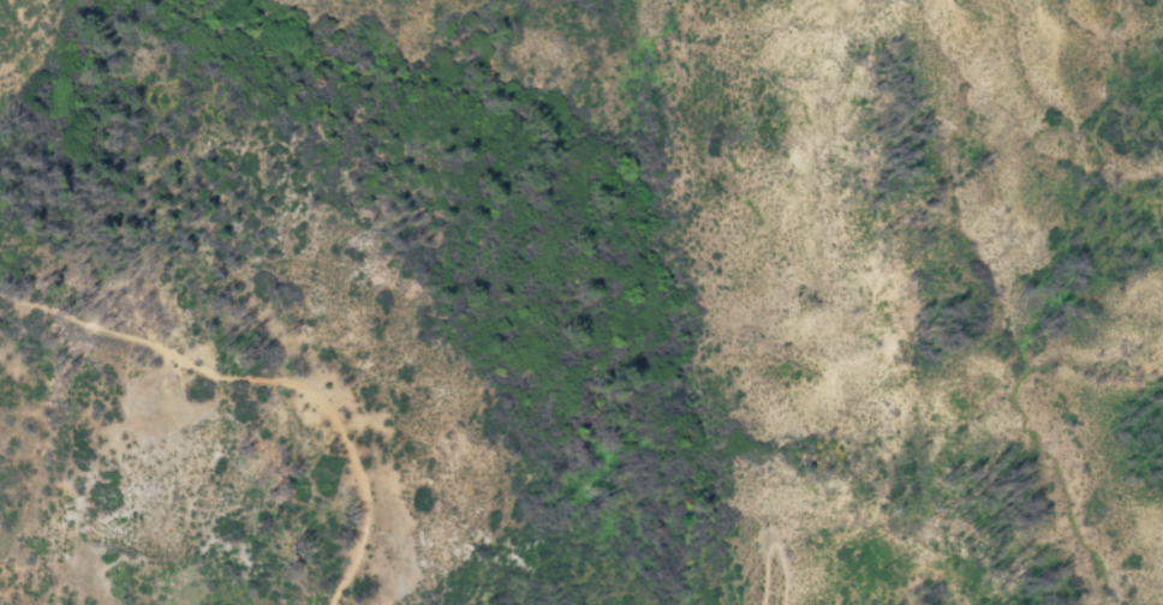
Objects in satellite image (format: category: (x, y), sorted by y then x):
road: (264, 383)
road: (776, 546)

